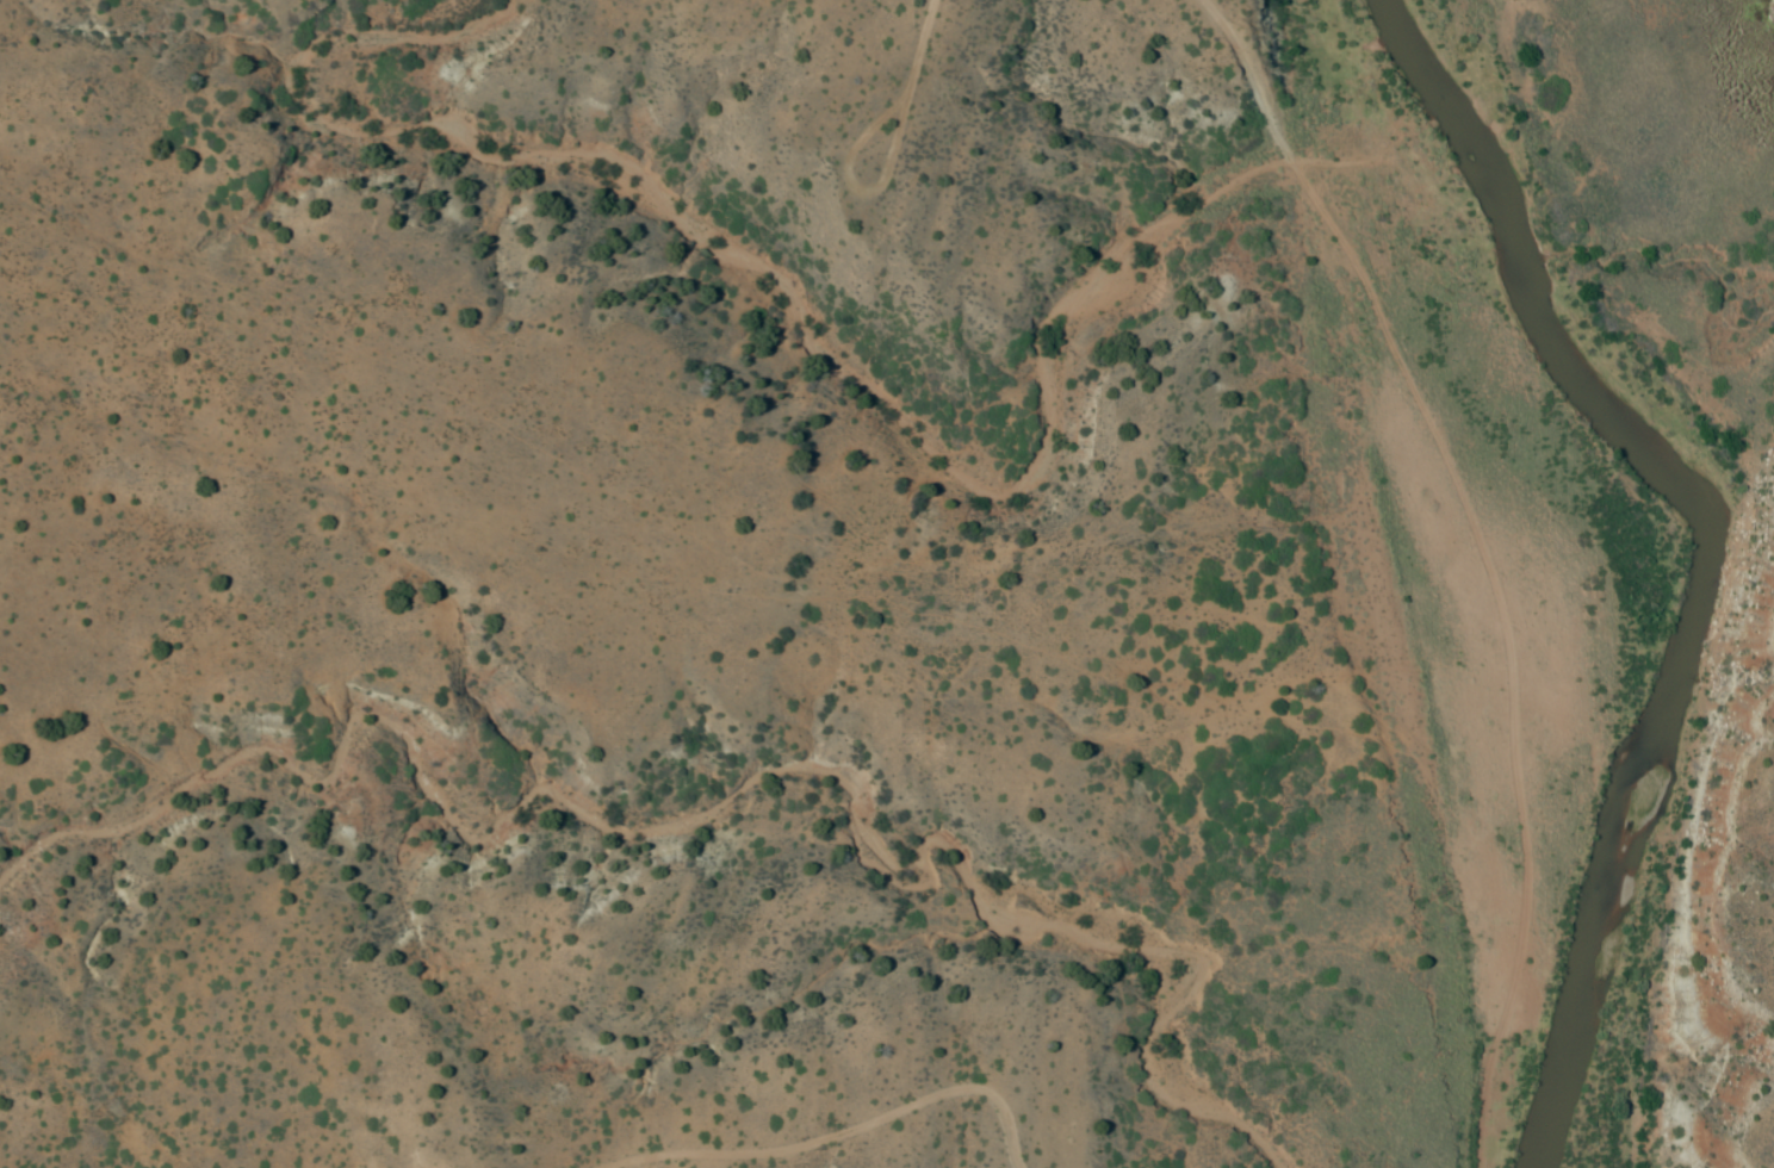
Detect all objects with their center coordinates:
river: (1708, 542)

